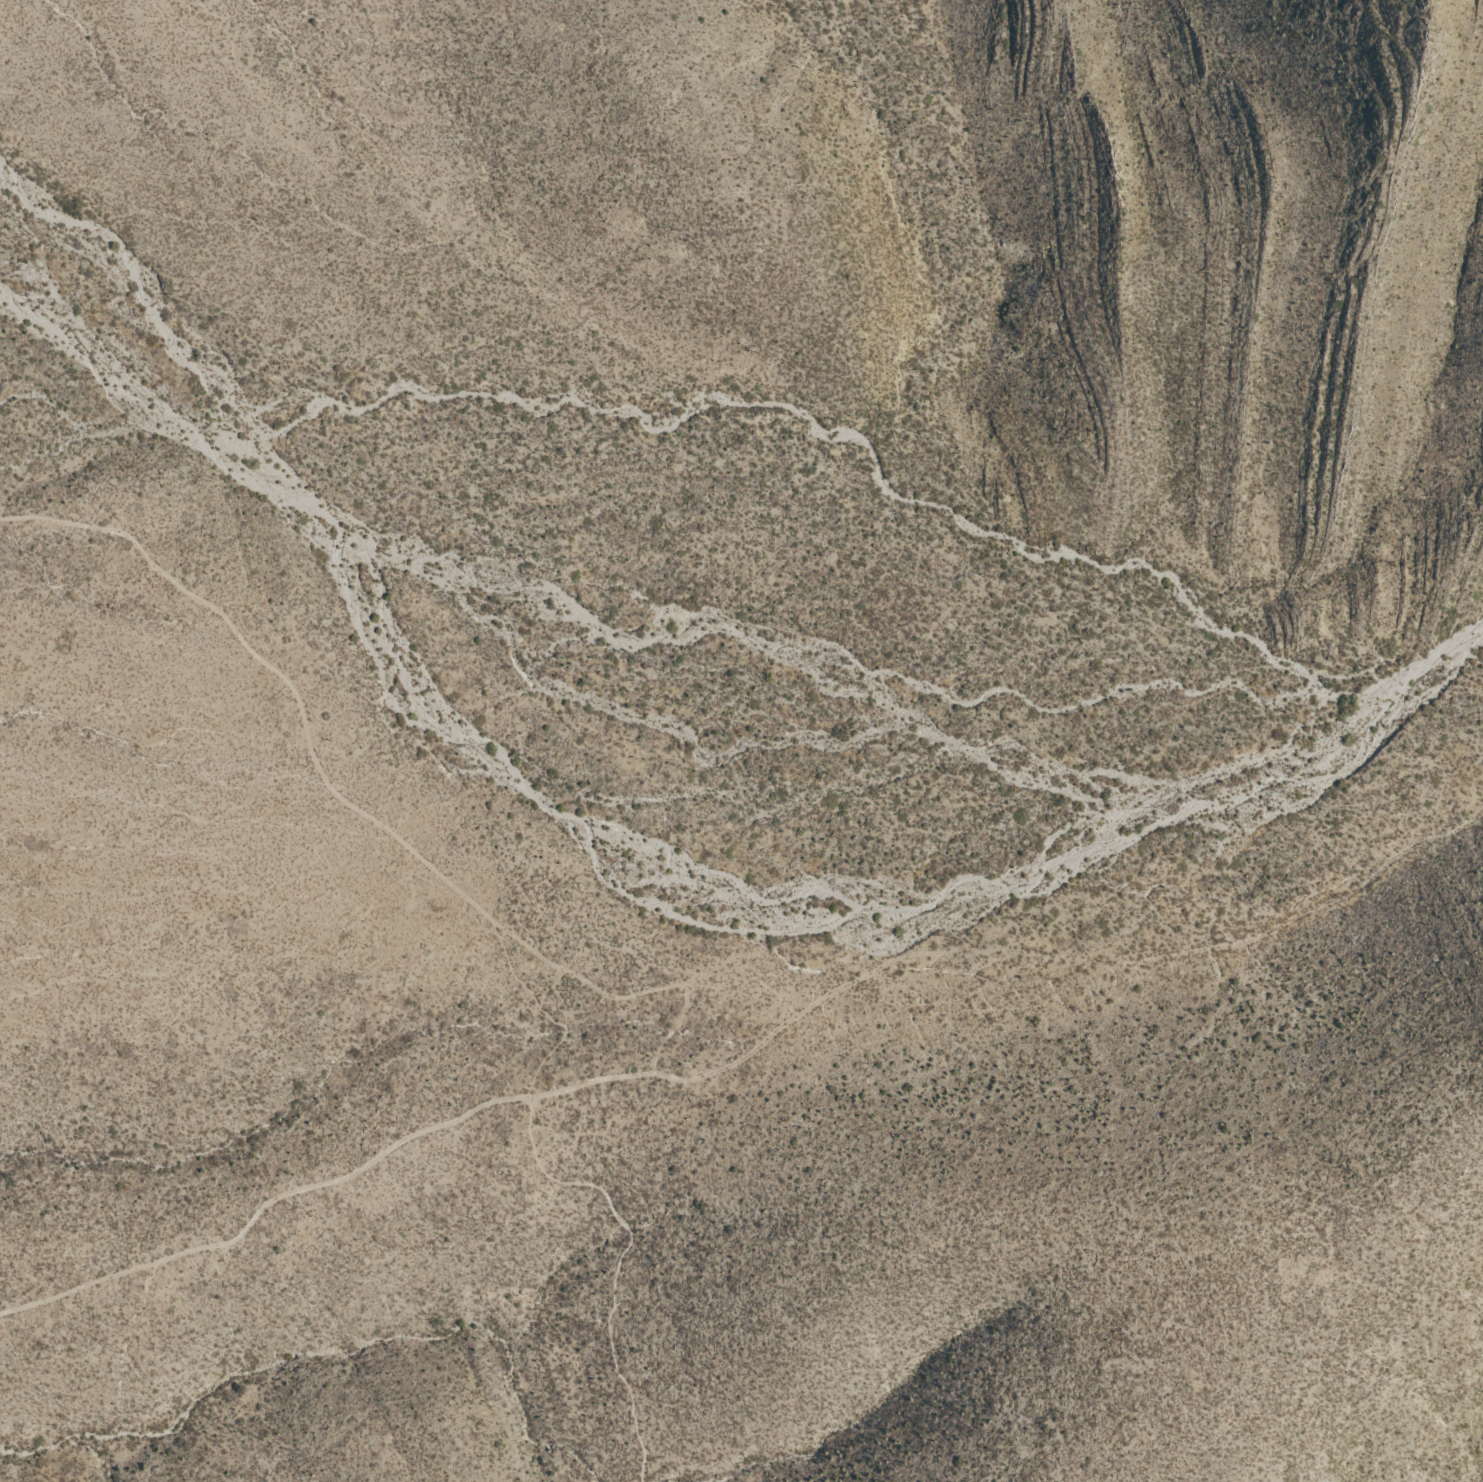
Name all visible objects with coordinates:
road: (489, 921)
road: (264, 1206)

